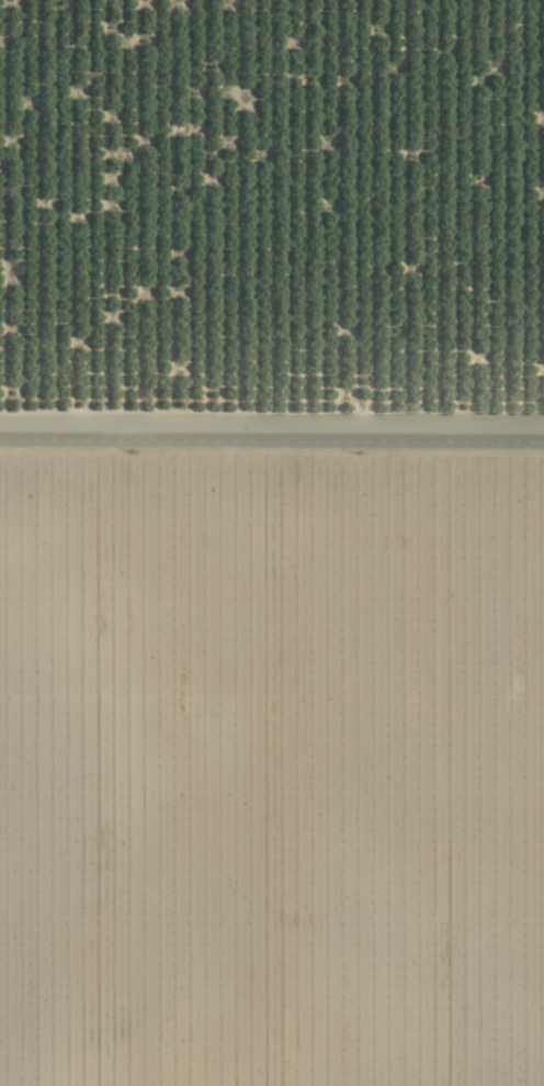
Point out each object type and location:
road: (272, 444)

